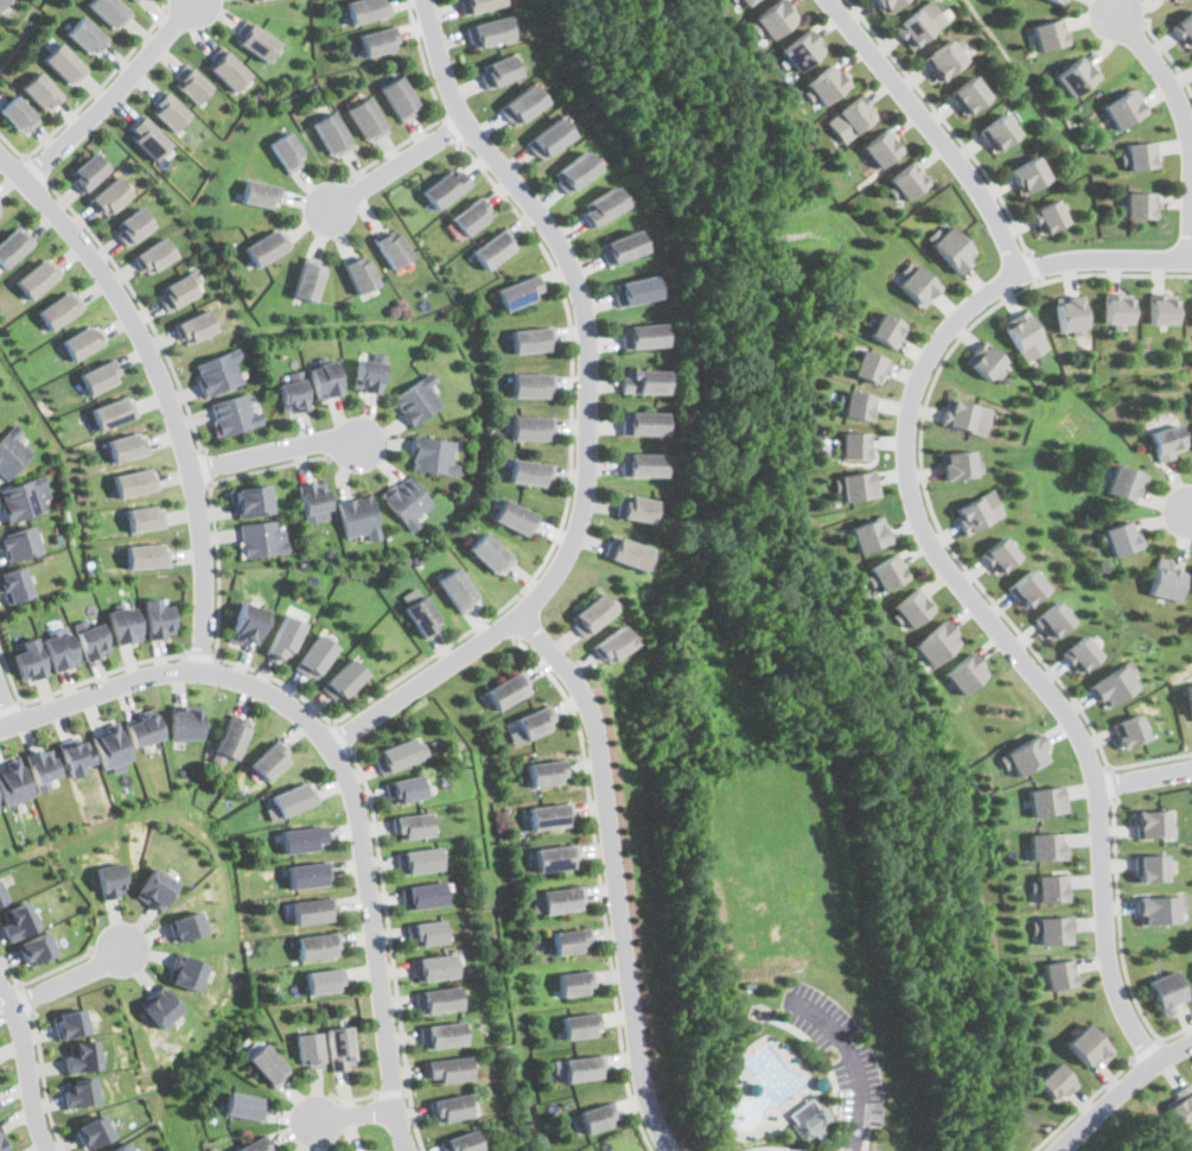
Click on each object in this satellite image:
building: (253, 0)
building: (1060, 0)
building: (1175, 0)
building: (135, 2)
building: (745, 2)
building: (4, 5)
building: (887, 5)
building: (365, 9)
building: (478, 9)
building: (108, 17)
building: (773, 19)
building: (919, 24)
building: (1185, 28)
building: (1047, 33)
building: (377, 40)
building: (489, 40)
building: (87, 44)
building: (260, 47)
building: (802, 50)
road: (1169, 56)
building: (944, 59)
building: (64, 69)
road: (1162, 70)
building: (230, 74)
building: (1077, 75)
building: (497, 77)
building: (826, 84)
road: (100, 85)
building: (192, 85)
road: (111, 94)
building: (969, 95)
building: (38, 98)
building: (399, 104)
building: (1124, 108)
building: (521, 110)
road: (442, 114)
building: (849, 119)
building: (171, 120)
building: (14, 122)
building: (364, 122)
road: (948, 123)
road: (454, 128)
road: (932, 131)
building: (997, 132)
building: (329, 140)
building: (151, 144)
building: (547, 144)
road: (11, 147)
building: (879, 148)
building: (1140, 153)
building: (285, 157)
road: (397, 166)
building: (90, 168)
road: (36, 171)
building: (1028, 174)
building: (573, 176)
building: (905, 182)
building: (113, 193)
building: (444, 196)
building: (261, 202)
building: (1140, 204)
building: (1, 206)
building: (600, 211)
building: (1048, 215)
building: (472, 221)
building: (136, 222)
building: (13, 246)
building: (949, 248)
building: (158, 252)
building: (620, 252)
building: (264, 253)
building: (492, 253)
building: (391, 254)
road: (1104, 260)
road: (1034, 268)
building: (34, 279)
building: (361, 280)
building: (914, 282)
building: (307, 284)
building: (179, 287)
building: (633, 297)
building: (518, 298)
building: (1118, 306)
road: (144, 307)
building: (1164, 307)
building: (59, 313)
building: (1071, 313)
building: (197, 323)
building: (886, 329)
building: (1025, 333)
building: (530, 341)
building: (639, 342)
building: (83, 346)
building: (987, 362)
building: (869, 365)
building: (366, 371)
building: (218, 375)
building: (325, 376)
building: (101, 379)
building: (642, 387)
road: (166, 389)
building: (529, 389)
building: (292, 390)
building: (856, 403)
building: (417, 407)
road: (585, 411)
building: (965, 414)
building: (115, 416)
building: (236, 422)
building: (639, 426)
building: (530, 433)
building: (1166, 440)
building: (854, 444)
road: (272, 451)
building: (129, 453)
building: (432, 456)
building: (12, 458)
building: (960, 463)
road: (208, 466)
building: (642, 472)
building: (529, 478)
building: (1124, 481)
building: (853, 484)
building: (135, 490)
road: (926, 492)
building: (251, 496)
building: (314, 498)
building: (406, 500)
building: (26, 505)
road: (213, 509)
building: (977, 510)
building: (357, 513)
building: (639, 513)
road: (1191, 514)
building: (516, 526)
building: (146, 527)
road: (555, 533)
building: (868, 533)
building: (261, 536)
building: (1118, 536)
building: (23, 552)
building: (491, 554)
building: (1000, 554)
building: (626, 559)
building: (146, 565)
building: (885, 571)
road: (783, 578)
building: (1166, 581)
building: (1027, 586)
building: (455, 587)
building: (15, 597)
building: (910, 608)
building: (593, 611)
building: (159, 615)
building: (423, 615)
building: (1052, 619)
building: (123, 621)
road: (502, 625)
building: (249, 632)
building: (90, 637)
building: (611, 642)
building: (936, 642)
road: (1007, 646)
building: (286, 647)
building: (59, 648)
building: (1081, 653)
road: (205, 654)
building: (28, 656)
building: (315, 666)
building: (963, 673)
building: (1114, 683)
road: (76, 685)
building: (508, 686)
building: (346, 691)
building: (1190, 698)
road: (12, 707)
road: (6, 708)
building: (533, 720)
road: (7, 729)
building: (1129, 729)
building: (185, 733)
building: (146, 737)
road: (340, 738)
building: (234, 739)
building: (114, 752)
building: (403, 753)
building: (1021, 755)
building: (272, 759)
building: (78, 764)
building: (546, 772)
road: (344, 777)
building: (44, 778)
road: (1143, 781)
road: (1111, 783)
building: (415, 787)
building: (14, 795)
building: (293, 799)
building: (1043, 800)
building: (0, 818)
building: (1150, 821)
building: (412, 825)
building: (547, 826)
building: (306, 837)
building: (413, 838)
building: (1044, 845)
building: (477, 847)
building: (416, 859)
building: (1150, 866)
building: (553, 869)
building: (311, 875)
building: (417, 875)
road: (611, 877)
road: (598, 886)
building: (1046, 886)
building: (113, 889)
building: (1, 898)
building: (159, 899)
building: (425, 907)
building: (1159, 908)
building: (314, 909)
building: (557, 911)
building: (17, 921)
building: (1050, 928)
building: (192, 936)
road: (1121, 941)
building: (429, 945)
building: (33, 949)
building: (567, 950)
road: (390, 952)
building: (318, 956)
building: (432, 966)
building: (1054, 973)
road: (43, 975)
building: (324, 980)
building: (434, 983)
road: (70, 984)
building: (191, 984)
building: (1166, 990)
building: (573, 993)
building: (326, 996)
road: (26, 999)
building: (435, 999)
building: (439, 1015)
building: (165, 1020)
building: (70, 1022)
building: (440, 1034)
building: (579, 1036)
building: (1086, 1044)
building: (444, 1048)
road: (1148, 1050)
building: (83, 1055)
building: (344, 1061)
road: (852, 1061)
building: (314, 1063)
building: (267, 1064)
road: (26, 1068)
building: (446, 1068)
building: (581, 1079)
building: (270, 1082)
building: (1053, 1082)
road: (46, 1083)
building: (448, 1083)
building: (82, 1090)
road: (1121, 1092)
road: (394, 1093)
road: (353, 1100)
building: (0, 1105)
road: (1083, 1105)
building: (244, 1106)
building: (1181, 1106)
building: (0, 1107)
building: (450, 1107)
road: (356, 1115)
building: (805, 1118)
building: (248, 1121)
building: (452, 1121)
building: (597, 1130)
building: (94, 1131)
road: (866, 1139)
building: (2, 1140)
building: (121, 1147)
building: (464, 1147)
road: (773, 1147)
building: (266, 1149)

